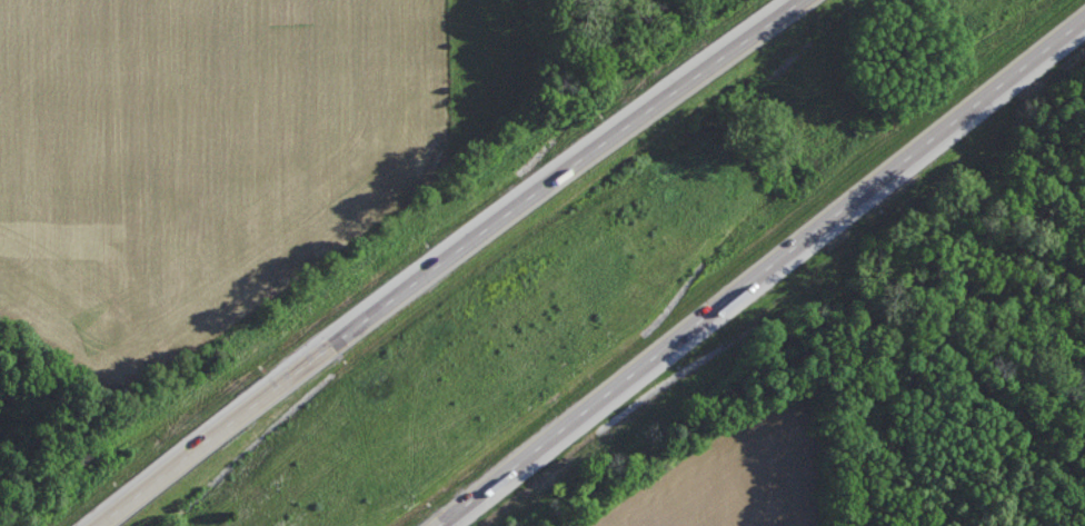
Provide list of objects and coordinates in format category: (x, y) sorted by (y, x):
road: (447, 258)
road: (760, 269)

